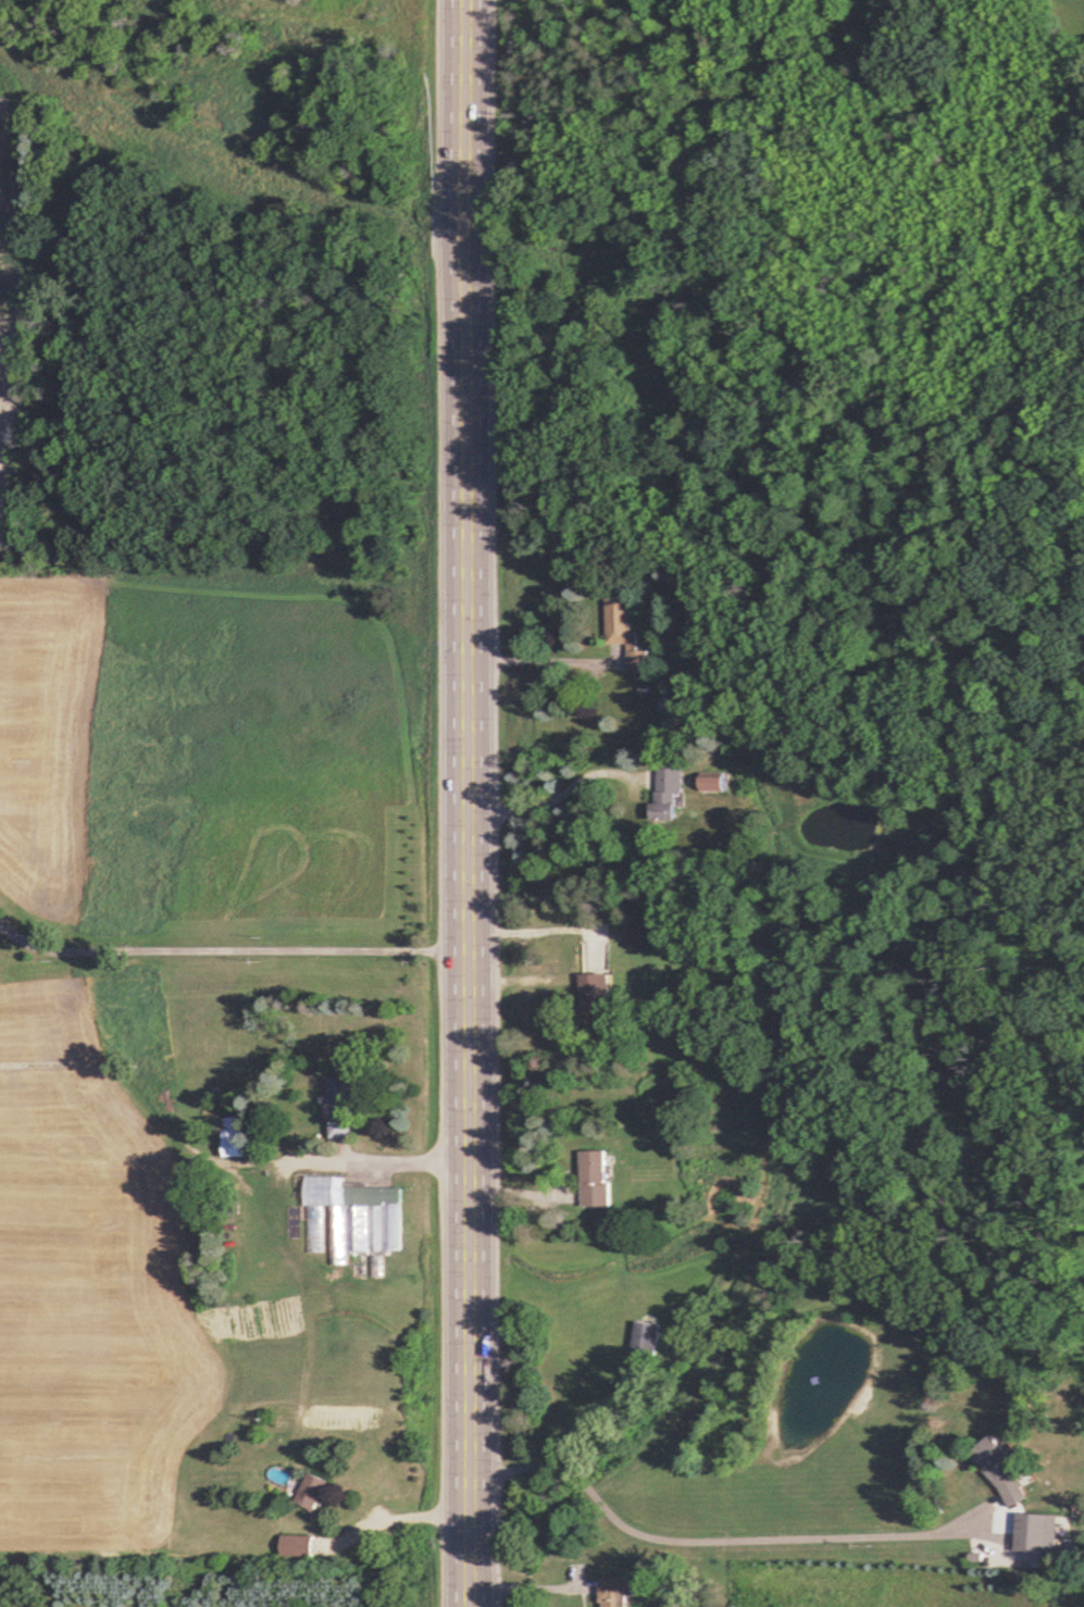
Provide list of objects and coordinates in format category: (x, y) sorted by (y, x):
building: (624, 631)
road: (535, 659)
building: (712, 781)
building: (665, 790)
road: (553, 794)
road: (465, 804)
road: (543, 926)
building: (645, 933)
road: (227, 954)
building: (593, 993)
building: (340, 1108)
building: (233, 1146)
road: (375, 1159)
building: (594, 1178)
building: (340, 1211)
building: (645, 1338)
building: (1000, 1470)
building: (312, 1491)
road: (403, 1515)
road: (722, 1540)
building: (1030, 1542)
building: (296, 1544)
road: (532, 1585)
building: (615, 1592)

